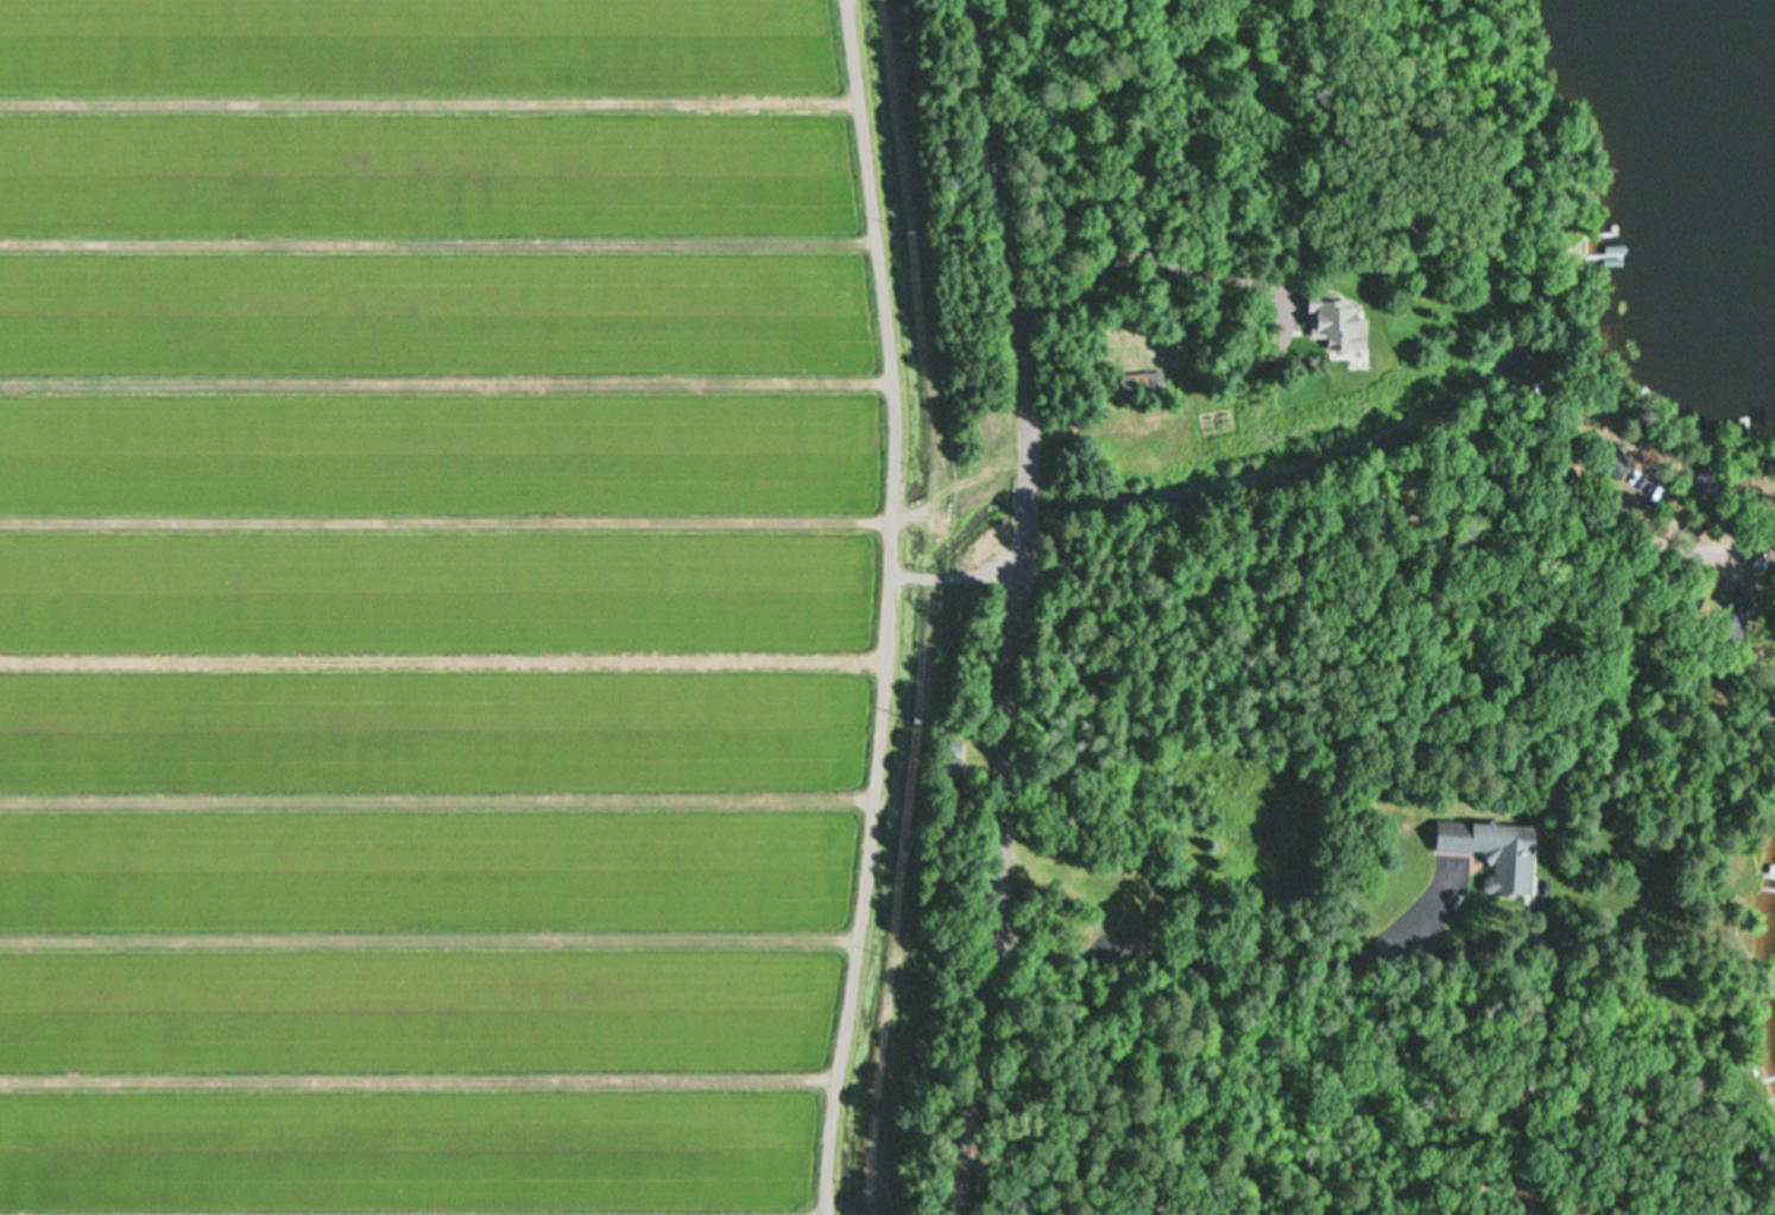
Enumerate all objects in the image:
building: (1333, 322)
building: (1141, 382)
building: (1613, 462)
road: (1386, 487)
crop: (463, 605)
road: (1011, 607)
building: (1736, 627)
building: (952, 768)
building: (1495, 852)
building: (1152, 919)

